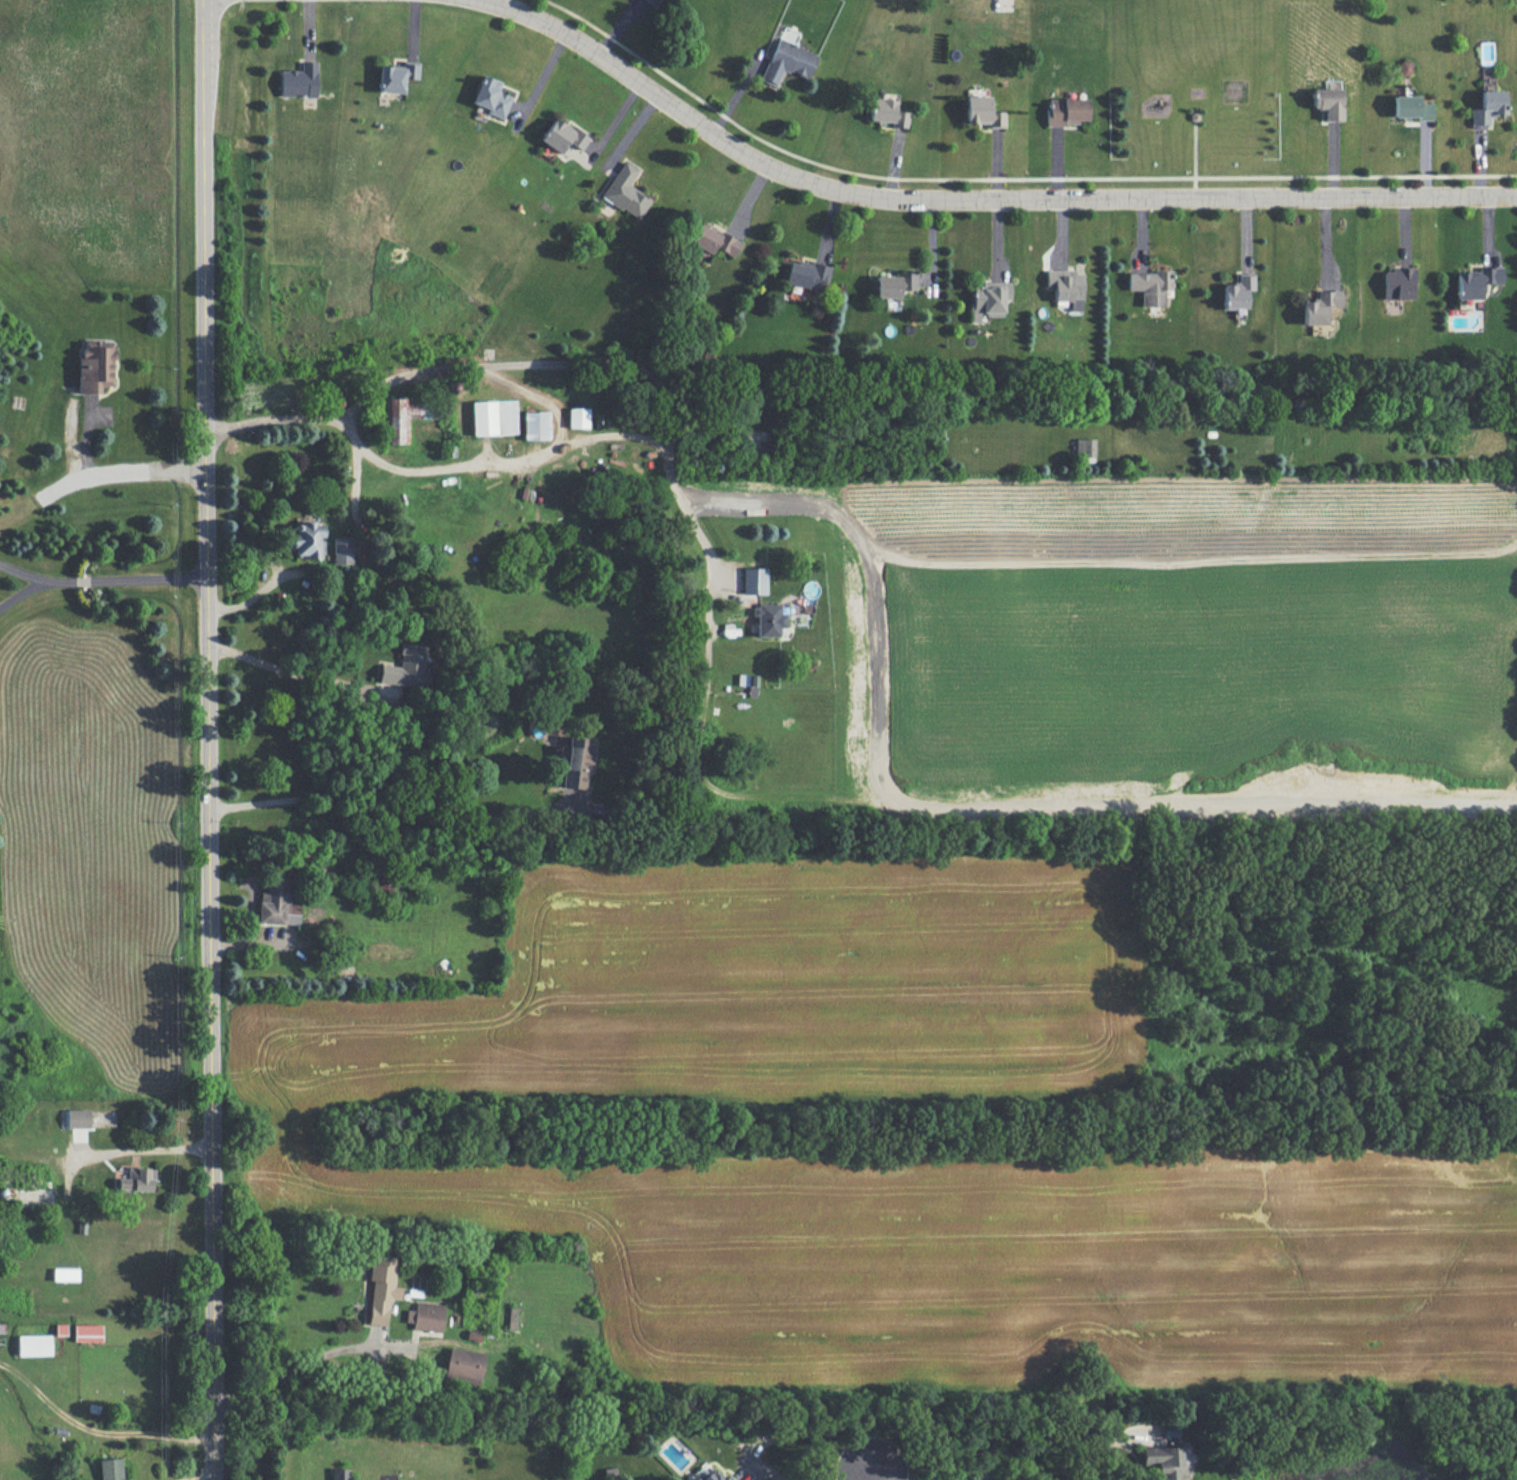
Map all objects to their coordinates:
building: (653, 1)
building: (1002, 2)
road: (239, 4)
building: (787, 61)
building: (1404, 67)
building: (396, 76)
building: (298, 81)
building: (491, 97)
building: (1327, 100)
building: (1410, 107)
building: (1487, 107)
building: (1066, 111)
building: (886, 112)
building: (980, 112)
building: (562, 136)
road: (1007, 177)
building: (626, 192)
road: (982, 196)
building: (713, 240)
building: (805, 274)
building: (1476, 282)
building: (1398, 283)
building: (893, 285)
building: (1149, 286)
building: (1065, 287)
building: (1237, 291)
building: (988, 299)
building: (1319, 306)
road: (541, 362)
building: (95, 366)
road: (533, 396)
building: (403, 416)
building: (578, 417)
building: (535, 425)
building: (1084, 447)
road: (499, 462)
road: (115, 470)
road: (355, 500)
building: (305, 538)
building: (340, 550)
road: (22, 572)
road: (98, 579)
building: (753, 581)
building: (768, 619)
building: (406, 667)
road: (299, 675)
road: (206, 739)
building: (577, 762)
road: (384, 813)
building: (277, 904)
building: (77, 1118)
road: (141, 1164)
building: (136, 1179)
building: (382, 1290)
building: (426, 1316)
building: (60, 1329)
building: (87, 1332)
building: (34, 1345)
building: (464, 1365)
road: (290, 1370)
road: (92, 1426)
road: (1000, 1444)
building: (1164, 1461)
road: (767, 1463)
building: (110, 1469)
road: (924, 1472)
building: (339, 1474)
road: (866, 1474)
building: (713, 1475)

